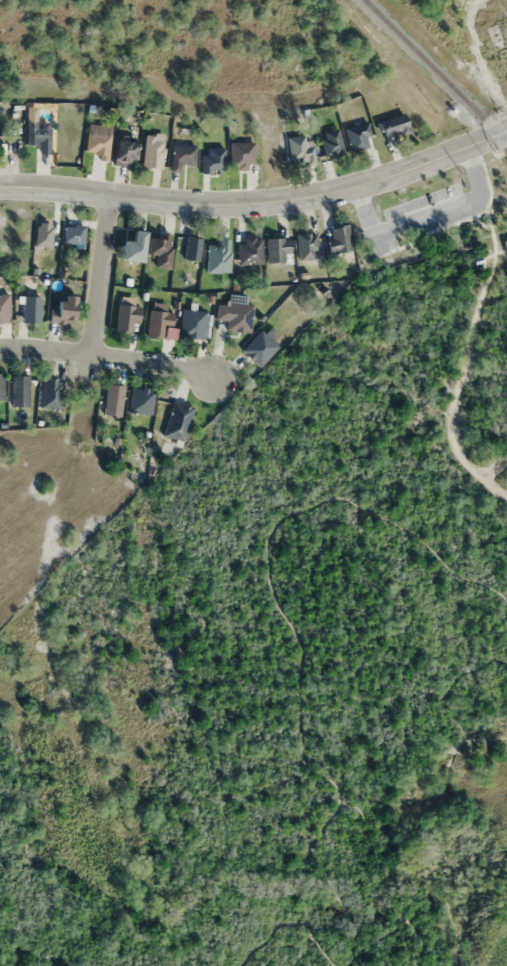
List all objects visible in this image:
building: (500, 41)
railway: (436, 70)
building: (394, 126)
building: (38, 133)
building: (357, 137)
building: (331, 142)
building: (98, 145)
building: (300, 149)
building: (153, 151)
building: (124, 152)
building: (182, 155)
building: (241, 155)
building: (213, 159)
road: (258, 204)
parking lot: (422, 217)
road: (428, 217)
building: (73, 234)
building: (339, 239)
building: (505, 243)
building: (307, 245)
building: (133, 247)
building: (193, 248)
building: (161, 249)
building: (277, 249)
building: (250, 250)
building: (218, 256)
building: (478, 260)
road: (102, 275)
building: (5, 307)
building: (30, 309)
building: (64, 310)
building: (235, 316)
building: (127, 318)
building: (159, 323)
building: (192, 323)
road: (470, 344)
building: (260, 348)
road: (107, 356)
building: (1, 387)
building: (19, 391)
building: (50, 393)
building: (113, 400)
building: (141, 401)
building: (178, 421)
road: (495, 472)
road: (495, 490)
road: (301, 641)
park: (291, 649)
road: (441, 761)
road: (290, 921)

